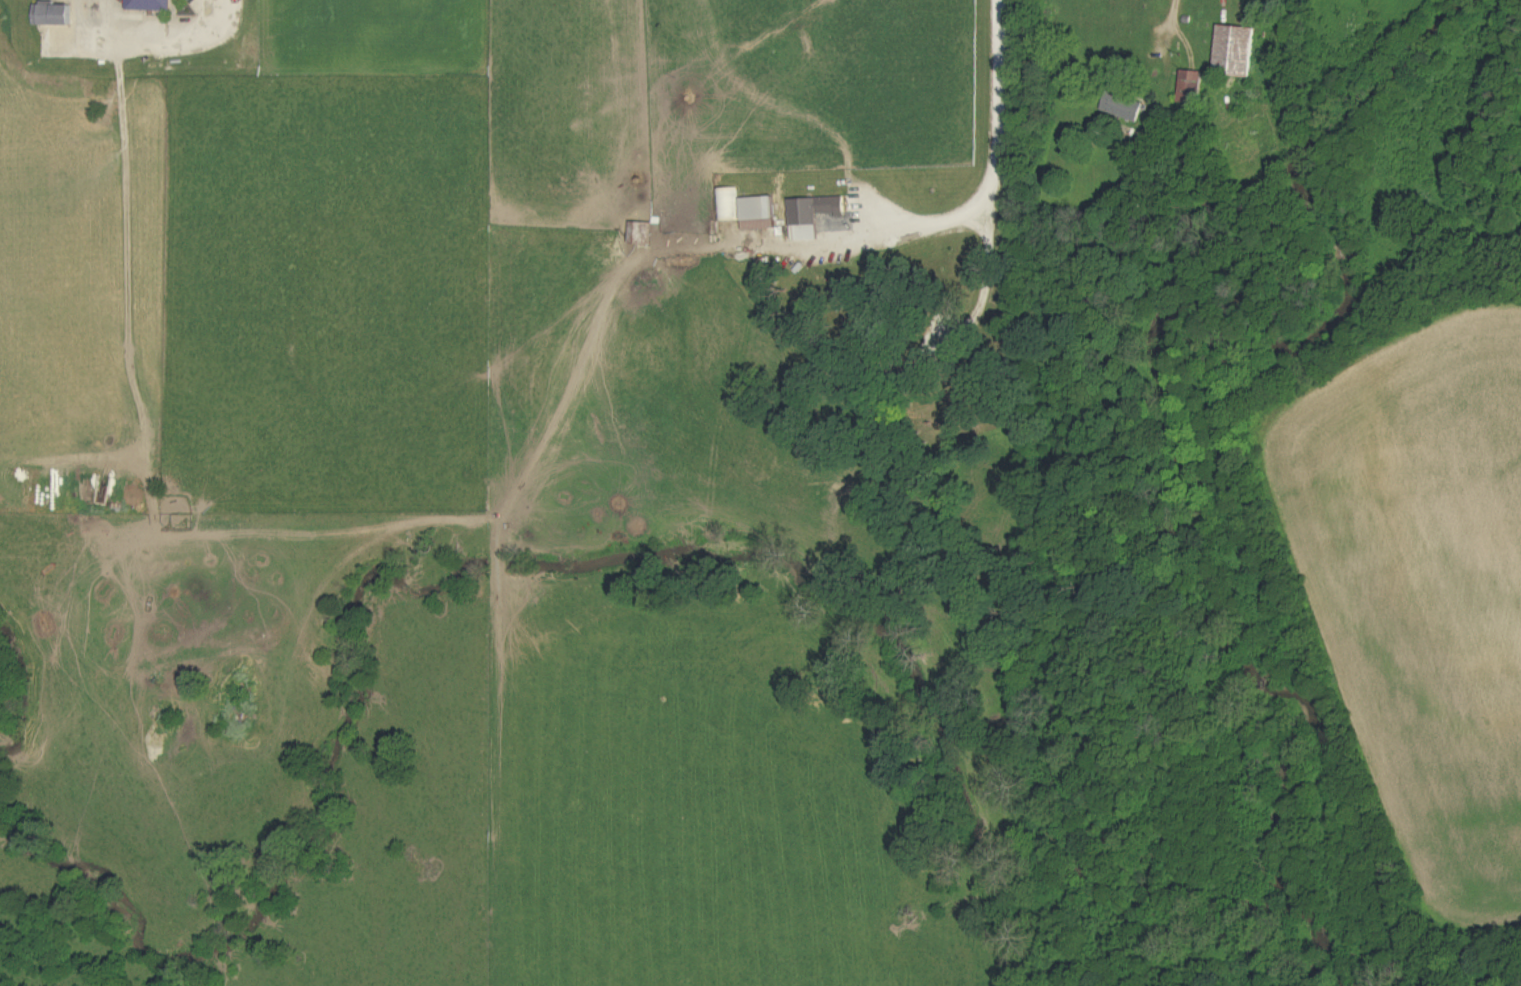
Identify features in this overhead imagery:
building: (151, 5)
road: (1175, 13)
building: (57, 14)
building: (1236, 51)
building: (1192, 87)
building: (1123, 107)
road: (996, 161)
building: (730, 205)
building: (761, 213)
building: (815, 216)
road: (125, 224)
building: (644, 234)

